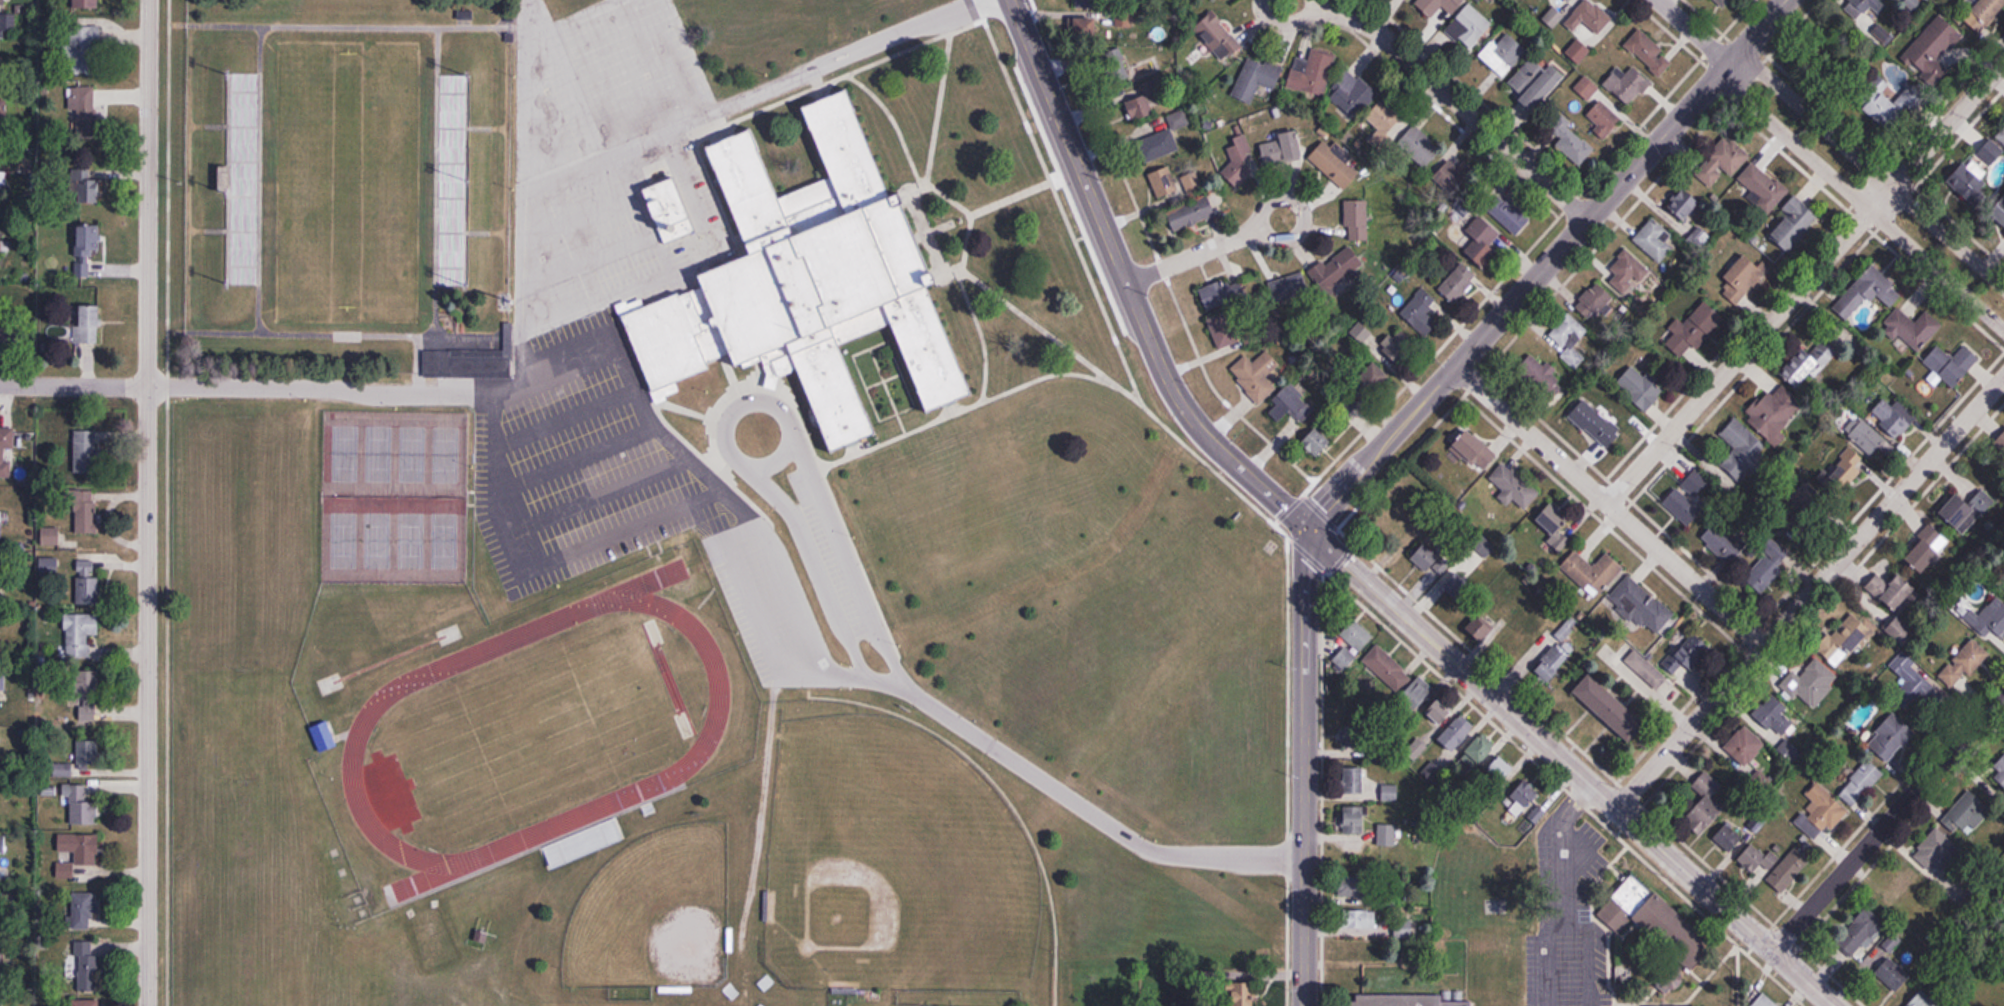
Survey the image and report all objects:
building: (1089, 0)
building: (1204, 0)
road: (531, 1)
building: (1, 2)
building: (1722, 2)
building: (85, 4)
building: (1439, 5)
building: (1858, 7)
building: (1557, 10)
building: (1983, 12)
building: (1588, 18)
building: (8, 26)
building: (1468, 26)
building: (1086, 30)
road: (1694, 32)
building: (1217, 37)
building: (1931, 45)
building: (83, 50)
building: (1503, 53)
building: (1649, 53)
road: (854, 56)
building: (1136, 65)
building: (1805, 71)
building: (1312, 72)
road: (856, 74)
building: (1256, 79)
road: (1436, 83)
building: (1535, 83)
building: (1628, 85)
building: (1586, 88)
building: (1350, 95)
building: (2, 100)
building: (83, 107)
building: (1892, 108)
road: (940, 112)
building: (1603, 120)
building: (1385, 125)
road: (895, 127)
building: (2000, 135)
building: (1569, 140)
building: (1158, 146)
building: (1419, 147)
building: (1990, 153)
road: (1877, 154)
building: (1263, 155)
building: (1722, 161)
building: (1335, 165)
road: (1871, 168)
building: (3, 179)
building: (86, 181)
building: (1969, 182)
building: (1163, 184)
building: (1193, 184)
building: (1762, 188)
road: (534, 191)
road: (1860, 201)
park: (350, 203)
road: (1061, 203)
building: (1685, 205)
road: (997, 209)
building: (670, 211)
building: (1191, 214)
building: (1511, 215)
building: (1998, 216)
road: (1857, 217)
building: (1357, 220)
road: (972, 221)
building: (1794, 222)
road: (1302, 233)
building: (1482, 240)
building: (1654, 241)
building: (87, 247)
building: (0, 250)
road: (1195, 257)
building: (243, 264)
road: (1549, 264)
building: (1336, 269)
building: (1627, 272)
building: (1738, 278)
road: (1805, 281)
building: (807, 283)
building: (1459, 283)
road: (1126, 286)
building: (1288, 288)
building: (1859, 293)
road: (524, 294)
building: (1594, 301)
building: (1222, 310)
building: (1419, 312)
building: (88, 326)
building: (1693, 329)
building: (1912, 329)
parking lot: (569, 335)
road: (984, 336)
building: (1567, 340)
building: (1401, 349)
building: (1809, 361)
building: (1951, 364)
building: (440, 374)
building: (1257, 375)
building: (1539, 378)
building: (1373, 380)
road: (73, 385)
building: (1640, 387)
road: (279, 393)
building: (1288, 403)
road: (971, 410)
building: (1774, 416)
building: (1894, 418)
building: (1596, 424)
road: (724, 426)
building: (1865, 436)
building: (2001, 441)
building: (1316, 442)
building: (1741, 448)
building: (1475, 450)
building: (85, 451)
building: (2, 456)
road: (673, 463)
building: (1846, 469)
building: (1694, 483)
building: (1513, 487)
park: (397, 500)
road: (147, 502)
road: (1610, 505)
building: (1682, 507)
building: (1966, 510)
building: (86, 513)
road: (1283, 519)
building: (1557, 527)
building: (0, 532)
building: (50, 536)
building: (1926, 550)
road: (845, 555)
building: (1432, 559)
road: (1078, 563)
road: (1287, 563)
road: (812, 566)
building: (1592, 572)
building: (2003, 573)
building: (1764, 574)
building: (87, 582)
building: (1460, 588)
road: (1811, 591)
building: (1892, 591)
building: (1639, 605)
building: (1991, 619)
building: (1484, 624)
building: (79, 634)
building: (1355, 634)
building: (1844, 639)
building: (1519, 643)
building: (1690, 653)
building: (1345, 657)
building: (1552, 663)
building: (1963, 663)
building: (1386, 667)
building: (1650, 673)
building: (374, 677)
building: (1809, 682)
building: (1913, 685)
building: (1419, 692)
building: (89, 698)
building: (1610, 707)
building: (1439, 711)
building: (1775, 715)
building: (1457, 733)
track: (366, 735)
building: (324, 736)
building: (1359, 736)
building: (1891, 738)
building: (1744, 746)
building: (1478, 751)
building: (87, 758)
road: (1572, 766)
road: (1306, 767)
building: (1501, 770)
building: (1998, 770)
building: (1353, 780)
building: (1860, 782)
building: (1521, 799)
building: (80, 805)
road: (1086, 808)
building: (1821, 811)
building: (1964, 814)
building: (1354, 819)
building: (1697, 821)
road: (1889, 821)
building: (1756, 823)
building: (1387, 834)
building: (1726, 839)
building: (3, 844)
building: (80, 847)
building: (1934, 850)
park: (889, 857)
building: (1756, 859)
building: (1789, 868)
building: (1897, 887)
road: (1555, 889)
building: (84, 909)
park: (651, 915)
building: (1650, 916)
building: (1358, 919)
building: (1403, 928)
building: (1861, 930)
road: (1582, 951)
building: (83, 966)
building: (1892, 975)
building: (1671, 980)
building: (1244, 994)
building: (1922, 1000)
building: (1412, 1001)
building: (1765, 1001)
building: (85, 1002)

